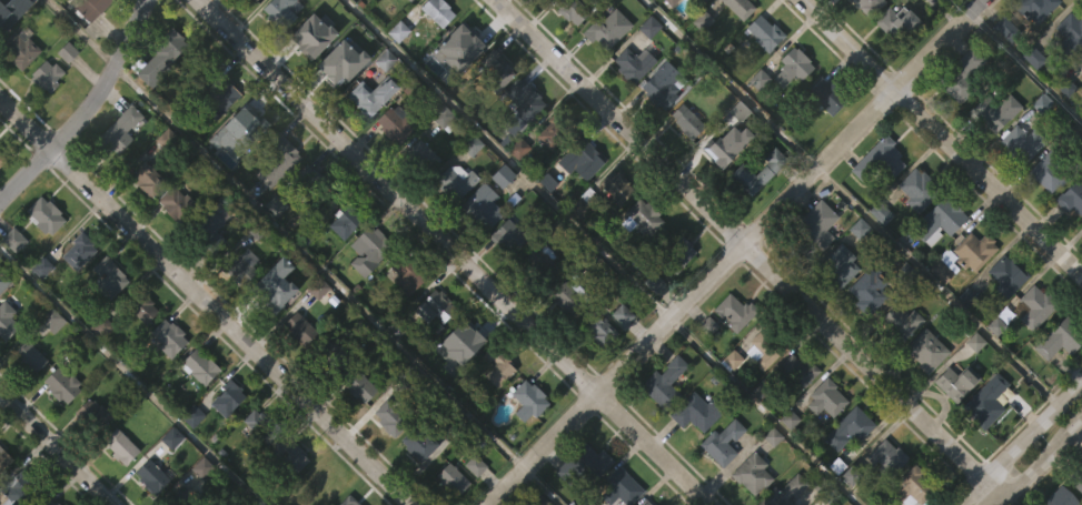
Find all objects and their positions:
building: (703, 0)
building: (669, 2)
building: (972, 2)
building: (945, 3)
building: (218, 4)
building: (867, 6)
building: (739, 7)
building: (89, 8)
building: (1034, 8)
building: (363, 9)
building: (572, 9)
building: (832, 10)
building: (278, 12)
building: (439, 12)
building: (296, 18)
building: (538, 21)
building: (703, 21)
building: (248, 23)
building: (403, 23)
building: (899, 23)
building: (2, 26)
building: (649, 27)
building: (607, 28)
building: (764, 31)
road: (80, 32)
building: (1070, 34)
building: (305, 36)
building: (668, 37)
building: (99, 38)
building: (861, 39)
building: (463, 41)
building: (734, 46)
building: (1033, 47)
building: (19, 49)
building: (279, 50)
building: (435, 52)
building: (569, 52)
building: (158, 58)
road: (1021, 59)
building: (1081, 60)
building: (699, 63)
building: (632, 64)
building: (892, 64)
building: (1004, 64)
building: (334, 65)
building: (793, 65)
building: (1, 68)
building: (646, 69)
building: (495, 70)
building: (605, 71)
building: (396, 73)
building: (46, 74)
building: (961, 74)
building: (1068, 77)
building: (310, 78)
building: (756, 78)
building: (661, 84)
road: (731, 84)
building: (459, 85)
building: (18, 91)
building: (1081, 91)
building: (64, 94)
building: (825, 94)
building: (217, 95)
building: (364, 98)
building: (523, 99)
building: (340, 103)
building: (1080, 103)
building: (631, 105)
road: (86, 109)
building: (738, 110)
building: (790, 110)
building: (994, 110)
building: (493, 111)
building: (150, 112)
building: (44, 118)
building: (960, 118)
building: (445, 119)
building: (686, 120)
building: (1081, 120)
building: (250, 121)
building: (395, 122)
building: (756, 122)
building: (558, 128)
building: (661, 128)
building: (120, 130)
building: (369, 138)
building: (822, 138)
road: (942, 138)
building: (217, 140)
building: (522, 142)
building: (1022, 142)
building: (722, 147)
building: (992, 154)
building: (420, 156)
building: (585, 156)
building: (1, 159)
building: (276, 160)
road: (507, 160)
building: (683, 162)
building: (877, 162)
building: (391, 168)
building: (1052, 170)
building: (120, 171)
building: (757, 172)
building: (234, 174)
building: (548, 176)
building: (147, 179)
building: (308, 180)
building: (455, 181)
building: (1019, 185)
building: (615, 188)
building: (724, 189)
building: (912, 190)
building: (515, 191)
building: (1072, 196)
building: (419, 198)
building: (1, 201)
building: (582, 202)
building: (177, 204)
building: (274, 205)
building: (482, 205)
building: (755, 214)
building: (44, 215)
building: (643, 216)
building: (1045, 216)
building: (499, 218)
building: (306, 219)
building: (939, 219)
building: (345, 220)
building: (145, 221)
building: (454, 223)
building: (208, 228)
building: (614, 230)
building: (815, 230)
building: (914, 232)
building: (509, 235)
building: (1073, 238)
building: (172, 244)
building: (272, 248)
building: (480, 248)
road: (747, 248)
building: (367, 250)
building: (576, 250)
building: (975, 250)
building: (77, 251)
road: (734, 251)
road: (454, 252)
building: (677, 253)
building: (877, 255)
building: (42, 257)
building: (1, 261)
building: (638, 261)
building: (538, 263)
building: (340, 264)
building: (944, 265)
road: (318, 266)
building: (842, 266)
building: (238, 267)
building: (813, 267)
building: (209, 271)
building: (1007, 274)
building: (405, 275)
building: (107, 277)
building: (506, 277)
building: (0, 280)
road: (940, 287)
building: (868, 290)
building: (367, 292)
building: (77, 293)
building: (970, 293)
building: (675, 295)
building: (266, 296)
building: (566, 297)
road: (206, 301)
building: (537, 302)
building: (1040, 302)
building: (140, 305)
building: (435, 306)
building: (838, 306)
building: (941, 309)
building: (236, 310)
building: (735, 311)
building: (1003, 317)
building: (107, 320)
building: (6, 321)
building: (403, 321)
building: (900, 322)
building: (651, 324)
building: (300, 327)
building: (597, 329)
building: (466, 334)
building: (865, 334)
building: (167, 336)
building: (1060, 339)
building: (564, 341)
building: (770, 341)
building: (431, 349)
building: (926, 350)
building: (1030, 350)
building: (330, 354)
building: (732, 354)
building: (28, 356)
building: (619, 356)
building: (49, 362)
building: (6, 364)
building: (897, 364)
building: (497, 365)
building: (198, 366)
building: (705, 366)
building: (993, 367)
building: (297, 371)
building: (798, 371)
building: (596, 372)
road: (131, 374)
building: (166, 378)
building: (468, 380)
building: (666, 382)
building: (1056, 382)
building: (960, 383)
building: (358, 384)
building: (60, 385)
building: (760, 392)
building: (922, 393)
building: (227, 396)
building: (830, 397)
building: (27, 398)
building: (528, 400)
building: (729, 401)
building: (989, 401)
building: (494, 410)
building: (696, 412)
road: (764, 412)
building: (93, 413)
building: (195, 414)
building: (794, 414)
building: (395, 415)
building: (661, 424)
building: (260, 425)
building: (953, 425)
building: (59, 426)
building: (851, 428)
building: (357, 430)
building: (172, 438)
building: (225, 441)
building: (722, 442)
building: (823, 442)
building: (418, 443)
building: (525, 443)
building: (983, 443)
building: (119, 446)
road: (1021, 446)
road: (57, 448)
building: (692, 454)
building: (90, 456)
building: (289, 456)
building: (887, 457)
building: (190, 458)
building: (3, 459)
building: (386, 459)
road: (1036, 459)
building: (786, 461)
building: (250, 462)
building: (584, 463)
building: (200, 469)
building: (846, 471)
building: (754, 474)
building: (152, 475)
building: (1076, 477)
building: (451, 478)
building: (169, 479)
building: (718, 484)
building: (318, 485)
building: (416, 485)
road: (542, 486)
building: (912, 486)
building: (118, 487)
building: (17, 488)
building: (622, 488)
building: (784, 492)
building: (884, 495)
building: (182, 497)
building: (288, 497)
building: (585, 497)
building: (1060, 497)
building: (348, 501)
building: (751, 501)
building: (47, 502)
building: (470, 502)
building: (146, 503)
building: (645, 503)
building: (445, 504)

